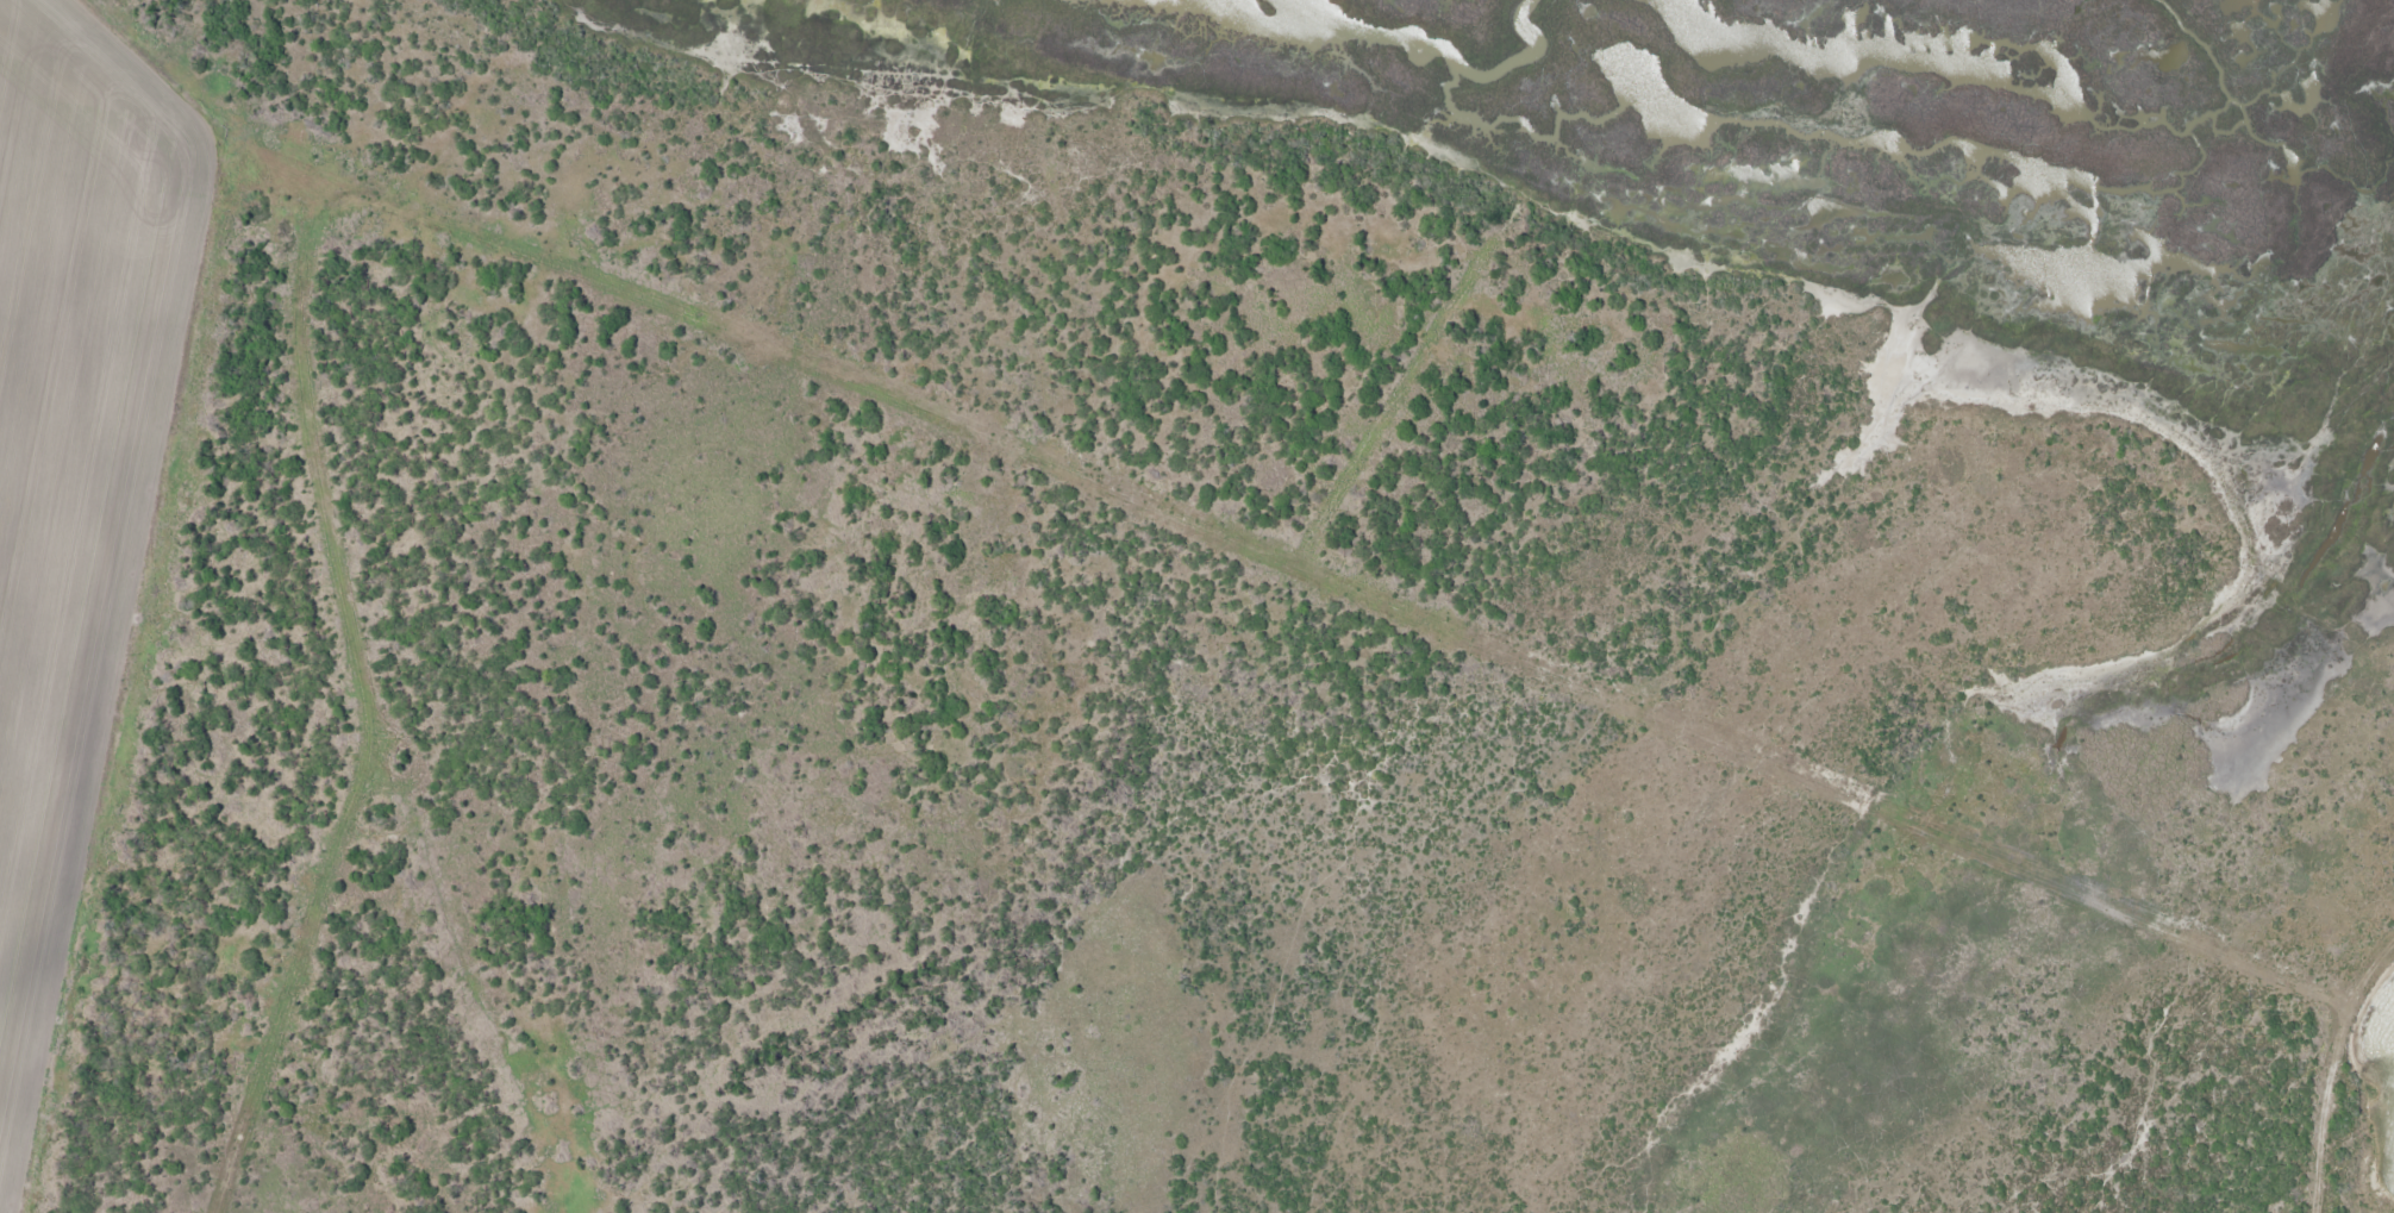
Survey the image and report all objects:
road: (494, 506)
road: (2249, 950)

